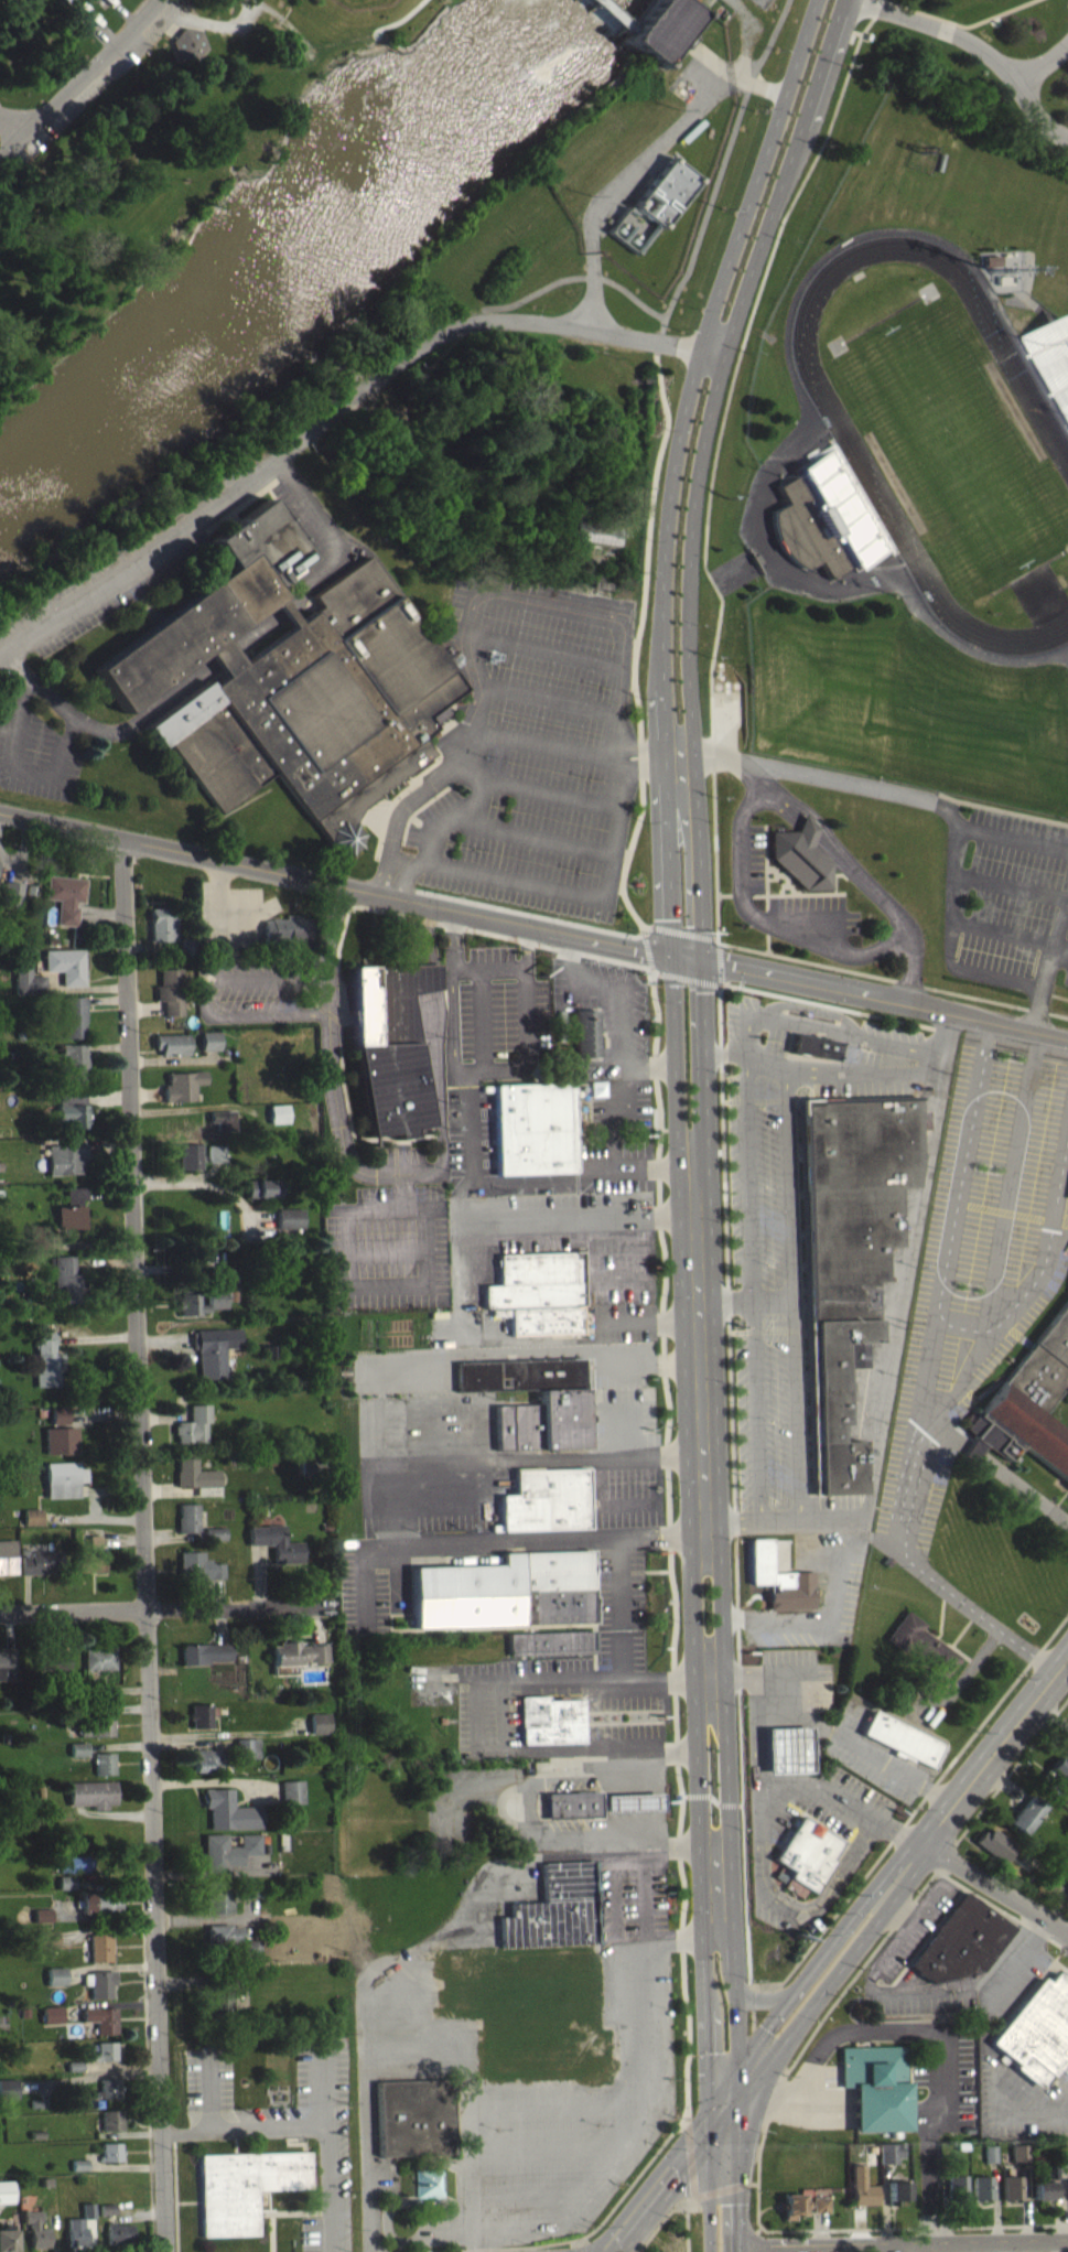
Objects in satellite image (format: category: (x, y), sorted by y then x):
park: (360, 2)
power substation: (764, 2)
road: (120, 14)
dam: (618, 14)
road: (397, 19)
road: (287, 23)
road: (959, 23)
road: (90, 28)
road: (413, 41)
building: (187, 42)
road: (975, 45)
road: (1044, 63)
road: (745, 79)
road: (84, 83)
road: (15, 125)
park: (143, 139)
road: (721, 170)
road: (618, 184)
building: (667, 191)
river: (271, 254)
road: (578, 277)
building: (1053, 362)
road: (334, 413)
park: (956, 444)
track: (860, 459)
road: (689, 468)
building: (807, 528)
building: (597, 532)
road: (335, 539)
road: (541, 597)
road: (288, 612)
road: (260, 632)
road: (714, 633)
parking lot: (33, 639)
road: (636, 639)
road: (226, 657)
building: (292, 681)
road: (107, 729)
road: (457, 735)
parking lot: (526, 752)
road: (649, 765)
road: (18, 768)
road: (393, 822)
road: (20, 850)
building: (799, 854)
road: (8, 859)
road: (408, 871)
road: (342, 884)
road: (605, 888)
building: (10, 893)
building: (64, 895)
road: (347, 909)
road: (99, 913)
road: (530, 913)
building: (162, 923)
road: (680, 930)
building: (285, 931)
road: (424, 931)
building: (186, 945)
road: (151, 946)
road: (648, 950)
traffic signals: (684, 957)
road: (718, 963)
building: (65, 965)
road: (687, 977)
road: (427, 978)
building: (26, 981)
road: (84, 987)
building: (169, 990)
road: (875, 998)
road: (105, 999)
road: (824, 1003)
road: (204, 1005)
road: (143, 1008)
building: (72, 1014)
building: (497, 1015)
road: (619, 1016)
building: (584, 1032)
building: (208, 1039)
road: (719, 1042)
building: (170, 1043)
building: (389, 1044)
road: (105, 1045)
building: (815, 1046)
road: (209, 1053)
road: (175, 1057)
building: (71, 1064)
building: (181, 1084)
road: (145, 1093)
road: (107, 1098)
building: (71, 1108)
road: (172, 1108)
building: (277, 1112)
building: (220, 1119)
building: (533, 1127)
road: (614, 1154)
building: (216, 1160)
building: (190, 1162)
building: (65, 1164)
road: (348, 1166)
road: (961, 1173)
road: (555, 1175)
road: (1007, 1183)
road: (218, 1185)
building: (263, 1194)
road: (1059, 1195)
building: (75, 1199)
road: (582, 1216)
building: (68, 1224)
building: (290, 1225)
building: (850, 1251)
building: (214, 1265)
road: (614, 1274)
building: (535, 1280)
building: (68, 1285)
road: (1027, 1295)
building: (188, 1304)
road: (694, 1315)
building: (547, 1319)
road: (957, 1328)
road: (596, 1329)
building: (213, 1356)
building: (46, 1367)
building: (1044, 1368)
building: (562, 1397)
building: (192, 1431)
building: (1017, 1436)
road: (943, 1437)
building: (60, 1440)
road: (973, 1458)
road: (565, 1464)
building: (194, 1480)
building: (61, 1486)
road: (1024, 1495)
building: (208, 1497)
building: (547, 1499)
building: (31, 1522)
building: (187, 1523)
road: (903, 1534)
road: (735, 1542)
road: (669, 1544)
building: (90, 1545)
road: (143, 1545)
building: (277, 1549)
road: (493, 1549)
building: (8, 1562)
building: (91, 1567)
building: (41, 1569)
building: (198, 1573)
building: (780, 1578)
building: (506, 1590)
road: (165, 1609)
building: (551, 1641)
building: (923, 1645)
road: (1067, 1656)
building: (204, 1659)
building: (298, 1659)
building: (6, 1667)
building: (99, 1670)
road: (800, 1673)
parking lot: (795, 1679)
road: (1050, 1712)
building: (549, 1720)
building: (198, 1721)
road: (756, 1724)
road: (510, 1725)
building: (320, 1730)
building: (95, 1732)
building: (902, 1737)
building: (787, 1750)
gas station: (787, 1750)
building: (246, 1754)
parking lot: (871, 1754)
building: (78, 1755)
building: (207, 1766)
road: (892, 1766)
building: (104, 1769)
building: (1057, 1775)
road: (808, 1781)
road: (1004, 1782)
road: (1001, 1784)
road: (684, 1795)
road: (698, 1795)
road: (923, 1796)
building: (292, 1798)
road: (712, 1799)
building: (91, 1800)
building: (630, 1801)
gas station: (630, 1801)
building: (571, 1803)
road: (727, 1803)
road: (741, 1803)
road: (710, 1804)
parking lot: (829, 1804)
building: (1026, 1814)
building: (228, 1817)
road: (865, 1830)
road: (757, 1831)
road: (760, 1831)
road: (579, 1834)
road: (895, 1834)
building: (994, 1843)
building: (806, 1855)
building: (227, 1857)
building: (77, 1870)
road: (898, 1873)
road: (1065, 1887)
building: (65, 1888)
road: (995, 1888)
building: (249, 1895)
road: (649, 1898)
building: (218, 1903)
road: (801, 1903)
road: (896, 1907)
building: (100, 1909)
road: (1003, 1910)
road: (799, 1912)
parking lot: (1067, 1918)
building: (42, 1921)
parking lot: (914, 1927)
building: (549, 1930)
road: (1067, 1931)
building: (960, 1940)
building: (48, 1944)
building: (233, 1948)
building: (100, 1953)
road: (1018, 1957)
parking lot: (1012, 1975)
building: (56, 1982)
road: (764, 1983)
road: (871, 1987)
building: (99, 1990)
street lamp: (669, 2007)
building: (222, 2009)
road: (731, 2013)
building: (53, 2021)
building: (103, 2025)
road: (408, 2028)
building: (1037, 2028)
road: (939, 2029)
road: (754, 2032)
road: (812, 2032)
building: (106, 2057)
parking lot: (943, 2080)
road: (322, 2084)
building: (876, 2086)
road: (211, 2090)
road: (706, 2092)
building: (9, 2094)
building: (110, 2094)
traffic signals: (736, 2097)
parking lot: (1020, 2099)
road: (1020, 2114)
building: (413, 2116)
road: (636, 2118)
street lamp: (597, 2123)
parking lot: (289, 2124)
traffic signals: (708, 2125)
building: (112, 2126)
street lamp: (661, 2126)
street lamp: (496, 2127)
road: (306, 2131)
street lamp: (664, 2152)
building: (889, 2152)
building: (1018, 2152)
building: (870, 2154)
building: (991, 2154)
building: (111, 2157)
road: (689, 2158)
road: (668, 2172)
building: (1055, 2172)
road: (735, 2174)
building: (519, 2179)
building: (427, 2181)
building: (244, 2186)
building: (957, 2186)
building: (862, 2187)
building: (981, 2187)
building: (1012, 2188)
road: (725, 2189)
building: (1042, 2191)
building: (1067, 2191)
building: (896, 2192)
building: (6, 2198)
road: (689, 2200)
road: (1025, 2200)
road: (996, 2201)
building: (802, 2203)
road: (884, 2203)
road: (1056, 2209)
building: (88, 2217)
road: (659, 2223)
road: (913, 2227)
street lamp: (593, 2228)
road: (686, 2228)
road: (820, 2228)
road: (756, 2234)
street lamp: (551, 2235)
building: (77, 2238)
building: (119, 2239)
road: (571, 2239)
road: (579, 2242)
building: (8, 2243)
building: (40, 2243)
street lamp: (531, 2243)
road: (902, 2243)
road: (972, 2246)
road: (1001, 2246)
road: (1054, 2246)
road: (875, 2248)
road: (881, 2248)
road: (911, 2248)
road: (942, 2248)
road: (575, 2249)

